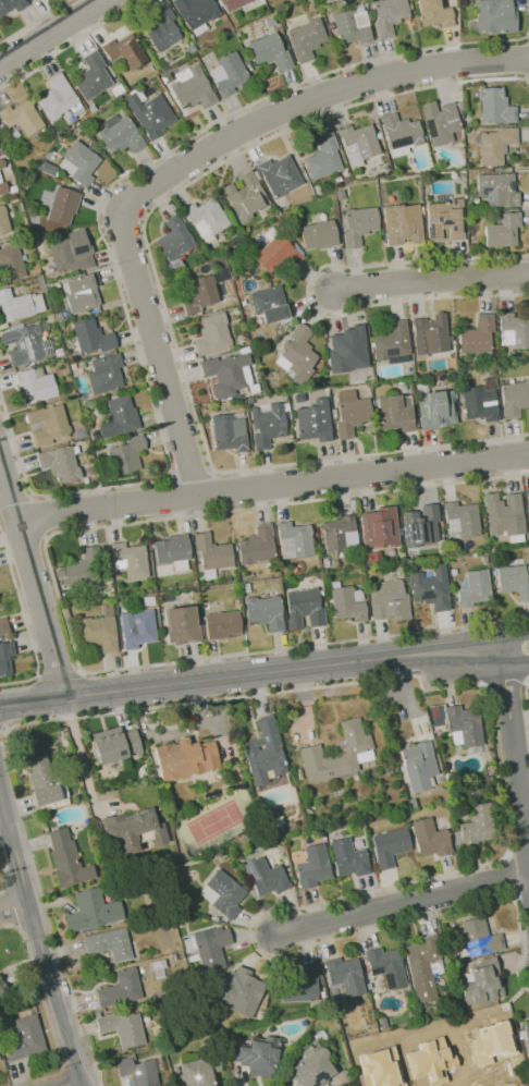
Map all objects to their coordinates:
building: (233, 3)
building: (11, 5)
building: (197, 11)
building: (433, 13)
building: (390, 15)
building: (494, 15)
road: (35, 22)
building: (352, 26)
building: (163, 28)
road: (57, 35)
building: (307, 38)
road: (69, 44)
building: (125, 51)
building: (270, 52)
road: (526, 59)
building: (231, 73)
building: (91, 76)
building: (195, 89)
building: (58, 98)
building: (495, 107)
building: (150, 114)
building: (21, 118)
building: (440, 122)
building: (401, 131)
building: (121, 136)
building: (359, 144)
building: (495, 145)
building: (323, 158)
building: (81, 162)
building: (1, 163)
road: (181, 168)
building: (280, 175)
building: (2, 187)
building: (497, 188)
building: (244, 197)
building: (62, 206)
building: (207, 216)
building: (446, 221)
building: (3, 224)
building: (359, 224)
building: (403, 224)
road: (98, 230)
building: (503, 230)
building: (319, 234)
building: (173, 239)
building: (67, 256)
building: (276, 257)
building: (10, 264)
road: (432, 282)
road: (307, 289)
building: (82, 292)
building: (200, 294)
road: (160, 297)
building: (267, 305)
building: (14, 306)
building: (513, 332)
building: (212, 334)
building: (432, 334)
building: (90, 337)
building: (477, 337)
building: (392, 340)
building: (24, 343)
building: (347, 346)
building: (296, 354)
building: (104, 374)
building: (225, 374)
building: (34, 385)
building: (515, 398)
building: (478, 402)
building: (435, 408)
building: (350, 412)
building: (395, 413)
building: (120, 417)
building: (315, 420)
building: (47, 424)
building: (267, 425)
building: (227, 432)
building: (127, 455)
building: (60, 463)
road: (271, 490)
road: (225, 491)
road: (161, 499)
building: (527, 501)
building: (505, 514)
road: (41, 515)
building: (463, 517)
building: (379, 526)
building: (422, 526)
building: (336, 534)
building: (296, 538)
building: (257, 546)
building: (172, 549)
building: (212, 552)
building: (131, 559)
building: (85, 570)
building: (513, 577)
road: (32, 583)
road: (56, 587)
building: (431, 587)
building: (475, 590)
building: (389, 600)
building: (346, 605)
building: (304, 608)
building: (264, 611)
road: (24, 617)
building: (181, 624)
building: (222, 624)
building: (3, 625)
building: (136, 627)
building: (100, 630)
road: (515, 643)
road: (515, 656)
building: (5, 658)
road: (60, 672)
road: (250, 674)
road: (502, 681)
road: (2, 683)
road: (246, 695)
road: (526, 700)
building: (465, 724)
road: (1, 730)
building: (114, 745)
building: (264, 752)
road: (81, 753)
road: (516, 753)
building: (336, 754)
building: (185, 758)
building: (418, 769)
building: (44, 778)
building: (477, 828)
building: (131, 830)
building: (429, 838)
building: (390, 846)
building: (348, 857)
building: (67, 859)
building: (315, 867)
road: (4, 871)
building: (266, 876)
building: (225, 894)
road: (403, 904)
road: (13, 905)
building: (95, 911)
building: (479, 937)
road: (38, 940)
building: (109, 944)
building: (212, 947)
road: (27, 949)
building: (386, 966)
building: (423, 967)
building: (345, 975)
building: (482, 981)
building: (300, 985)
building: (2, 989)
building: (120, 989)
building: (246, 989)
building: (122, 1027)
building: (527, 1032)
building: (25, 1038)
building: (257, 1057)
building: (428, 1059)
road: (94, 1062)
building: (200, 1066)
building: (310, 1066)
building: (381, 1067)
building: (142, 1070)
road: (75, 1084)

